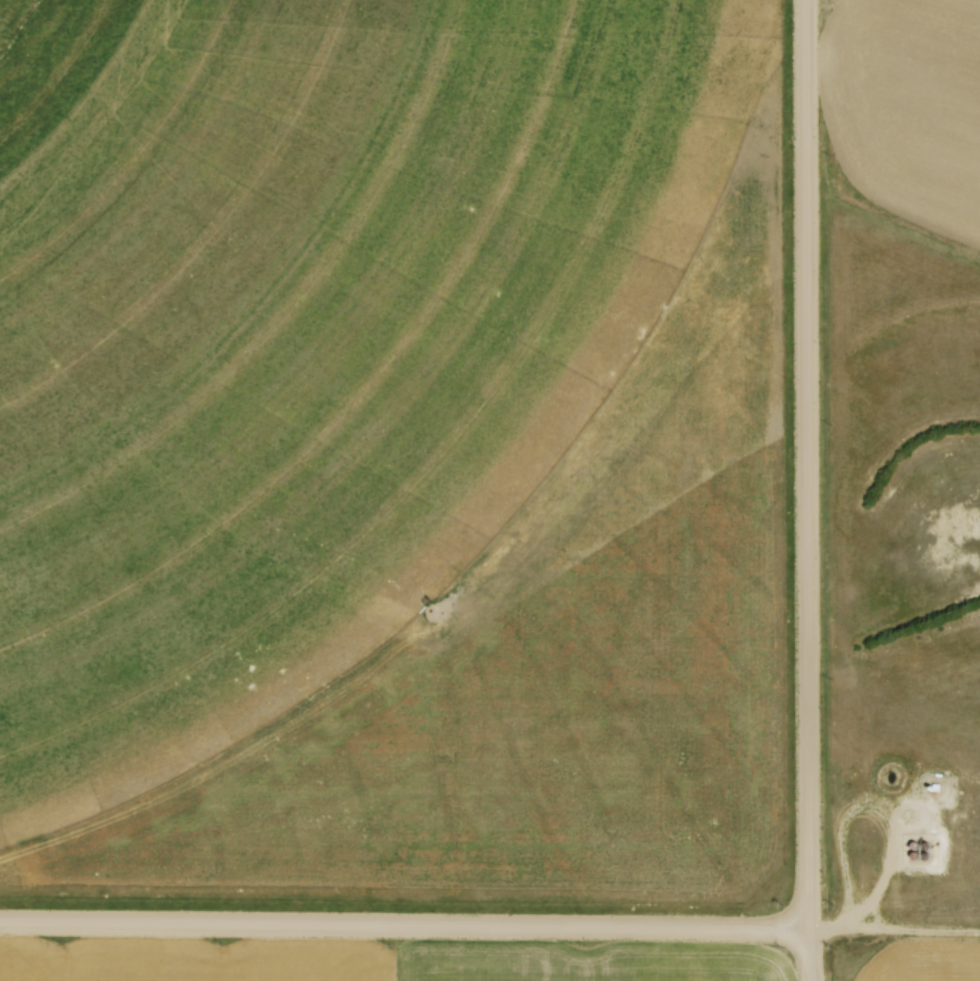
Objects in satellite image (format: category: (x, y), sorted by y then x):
road: (813, 490)
building: (932, 786)
road: (873, 809)
road: (406, 927)
road: (896, 933)

